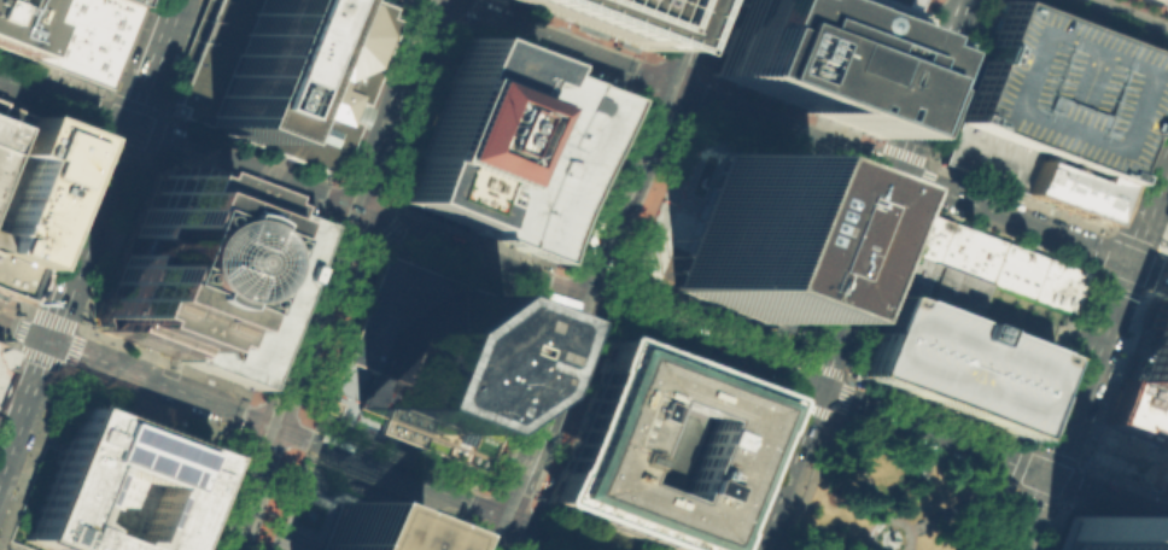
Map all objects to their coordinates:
building: (129, 1)
building: (1163, 1)
building: (901, 4)
road: (1150, 6)
railway: (1133, 13)
building: (601, 18)
road: (1116, 19)
building: (16, 23)
road: (450, 25)
road: (1099, 27)
building: (76, 36)
road: (592, 39)
road: (693, 45)
building: (816, 54)
building: (282, 74)
traffic signals: (676, 89)
building: (1058, 90)
parking lot: (1058, 90)
road: (99, 92)
road: (112, 95)
road: (627, 101)
road: (387, 104)
road: (683, 116)
road: (685, 118)
road: (822, 121)
traffic signals: (130, 127)
building: (465, 130)
building: (8, 131)
road: (802, 137)
road: (174, 142)
road: (904, 152)
building: (987, 157)
road: (868, 160)
building: (548, 163)
parking garage: (548, 163)
road: (113, 169)
traffic signals: (898, 174)
fountain: (699, 180)
road: (922, 185)
building: (35, 186)
building: (1067, 187)
road: (886, 193)
road: (1016, 197)
traffic signals: (348, 210)
road: (378, 215)
road: (1109, 232)
road: (1164, 240)
building: (757, 242)
building: (952, 246)
road: (1146, 246)
building: (1167, 247)
building: (1167, 250)
road: (1164, 252)
building: (158, 258)
traffic signals: (1127, 262)
building: (1014, 270)
road: (1090, 270)
railway: (328, 273)
road: (859, 274)
railway: (600, 275)
building: (19, 280)
road: (1127, 283)
building: (1055, 285)
building: (240, 288)
parking garage: (240, 288)
building: (936, 288)
road: (592, 302)
traffic signals: (592, 303)
road: (12, 304)
road: (42, 315)
road: (306, 316)
road: (10, 324)
road: (19, 329)
road: (602, 329)
road: (35, 333)
road: (623, 337)
traffic signals: (49, 339)
road: (6, 346)
building: (1, 351)
road: (1092, 351)
building: (1149, 352)
road: (27, 353)
building: (431, 362)
road: (6, 363)
road: (758, 364)
building: (954, 364)
parking lot: (954, 364)
road: (818, 365)
building: (538, 370)
road: (788, 374)
road: (147, 376)
traffic signals: (817, 387)
road: (846, 387)
road: (796, 402)
road: (151, 403)
road: (24, 404)
building: (328, 405)
road: (299, 410)
road: (1097, 410)
building: (1138, 411)
road: (833, 416)
road: (257, 417)
traffic signals: (267, 422)
road: (281, 428)
flagpole: (205, 435)
road: (253, 440)
road: (293, 443)
building: (659, 447)
road: (31, 450)
road: (923, 450)
road: (1049, 452)
road: (387, 469)
road: (858, 469)
building: (917, 473)
traffic signals: (1046, 475)
road: (490, 480)
road: (807, 482)
road: (244, 485)
road: (502, 486)
building: (113, 487)
road: (218, 493)
road: (273, 501)
road: (399, 501)
park: (893, 501)
road: (372, 505)
fountain: (807, 507)
road: (958, 508)
road: (293, 513)
fountain: (309, 513)
road: (506, 514)
road: (477, 515)
traffic signals: (512, 516)
road: (997, 516)
road: (1090, 516)
road: (323, 520)
road: (890, 521)
road: (303, 531)
building: (367, 531)
road: (504, 532)
road: (566, 537)
building: (1099, 537)
road: (468, 538)
road: (427, 539)
road: (519, 543)
road: (12, 544)
road: (270, 545)
road: (522, 548)
road: (530, 548)
road: (869, 548)

